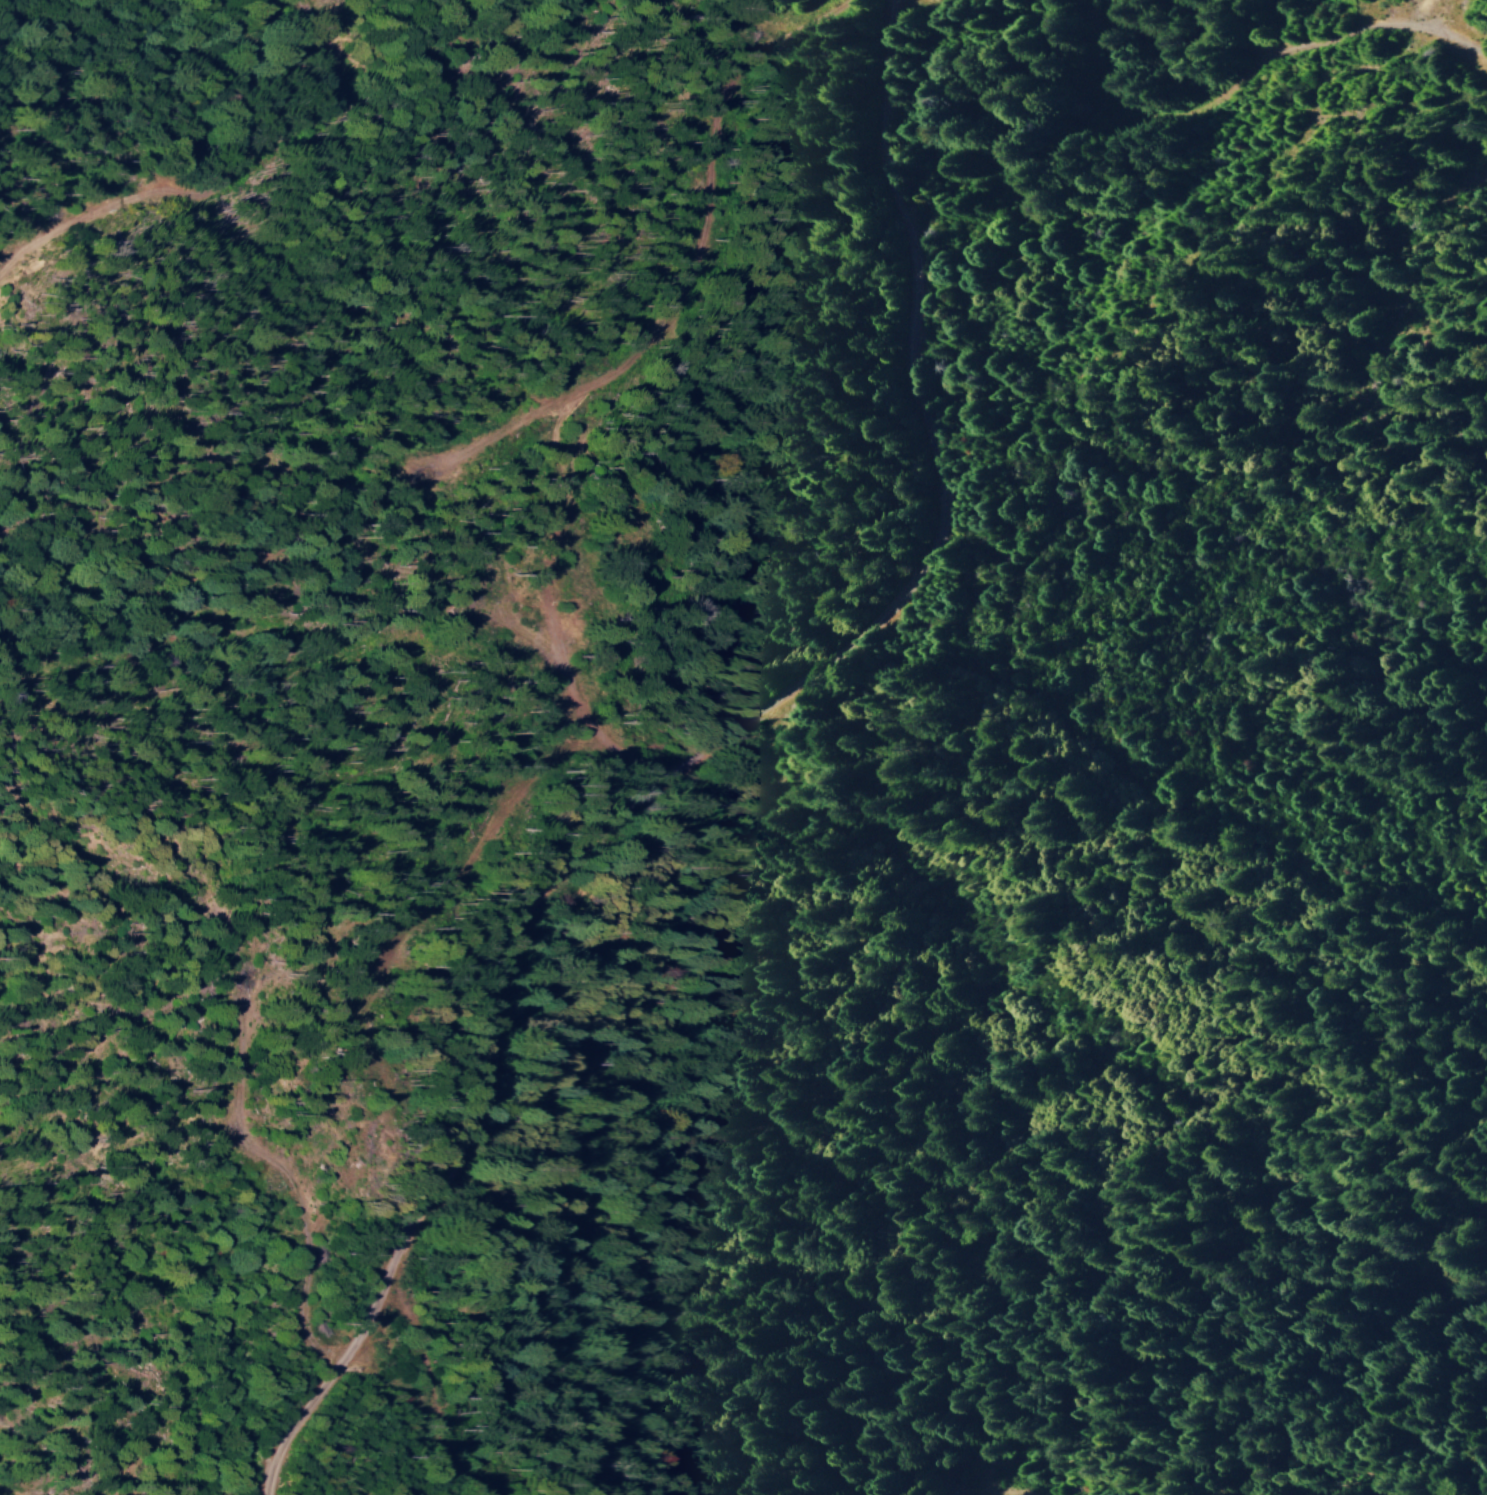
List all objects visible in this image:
road: (176, 150)
road: (695, 753)

